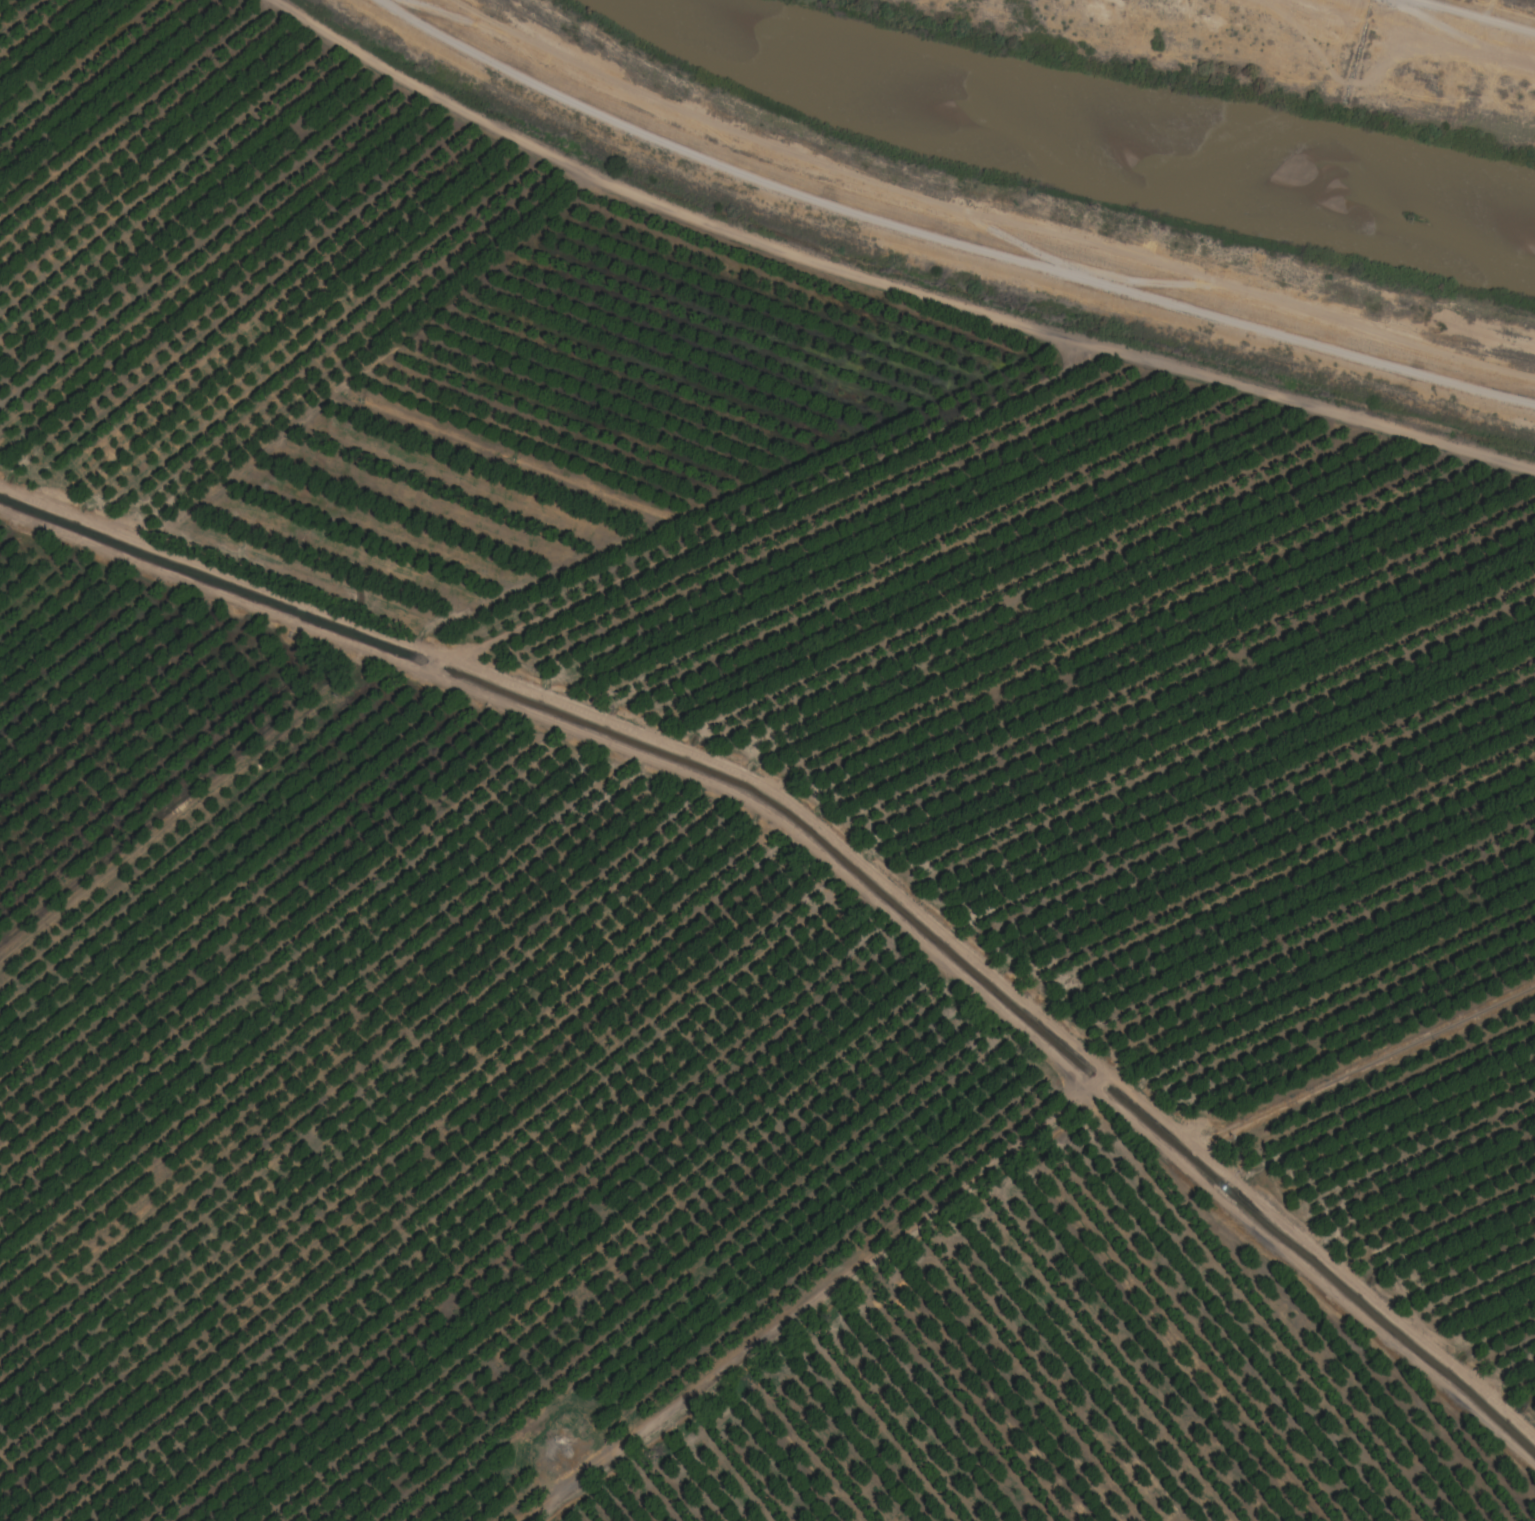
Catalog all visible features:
crop: (1526, 2)
road: (1473, 12)
river: (1080, 154)
road: (949, 244)
road: (889, 283)
road: (840, 842)

